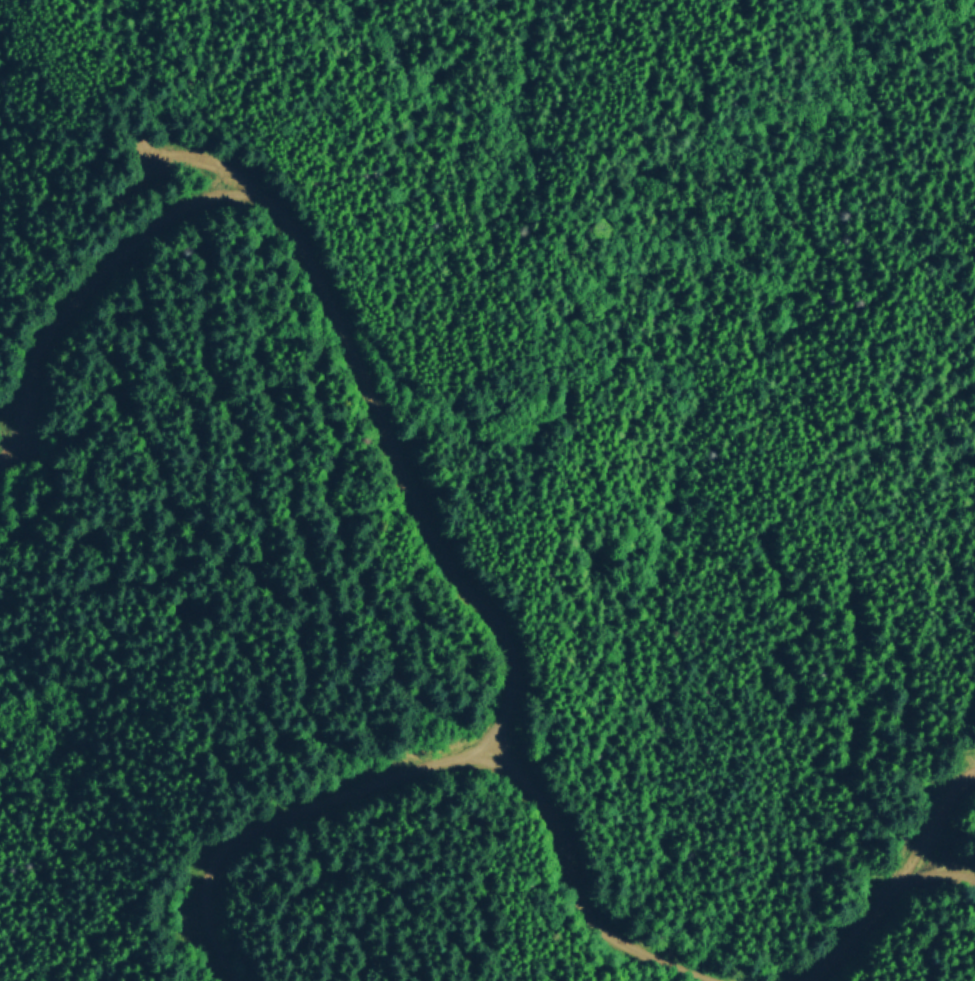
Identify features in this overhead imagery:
road: (75, 306)
road: (382, 430)
road: (430, 764)
road: (893, 908)

